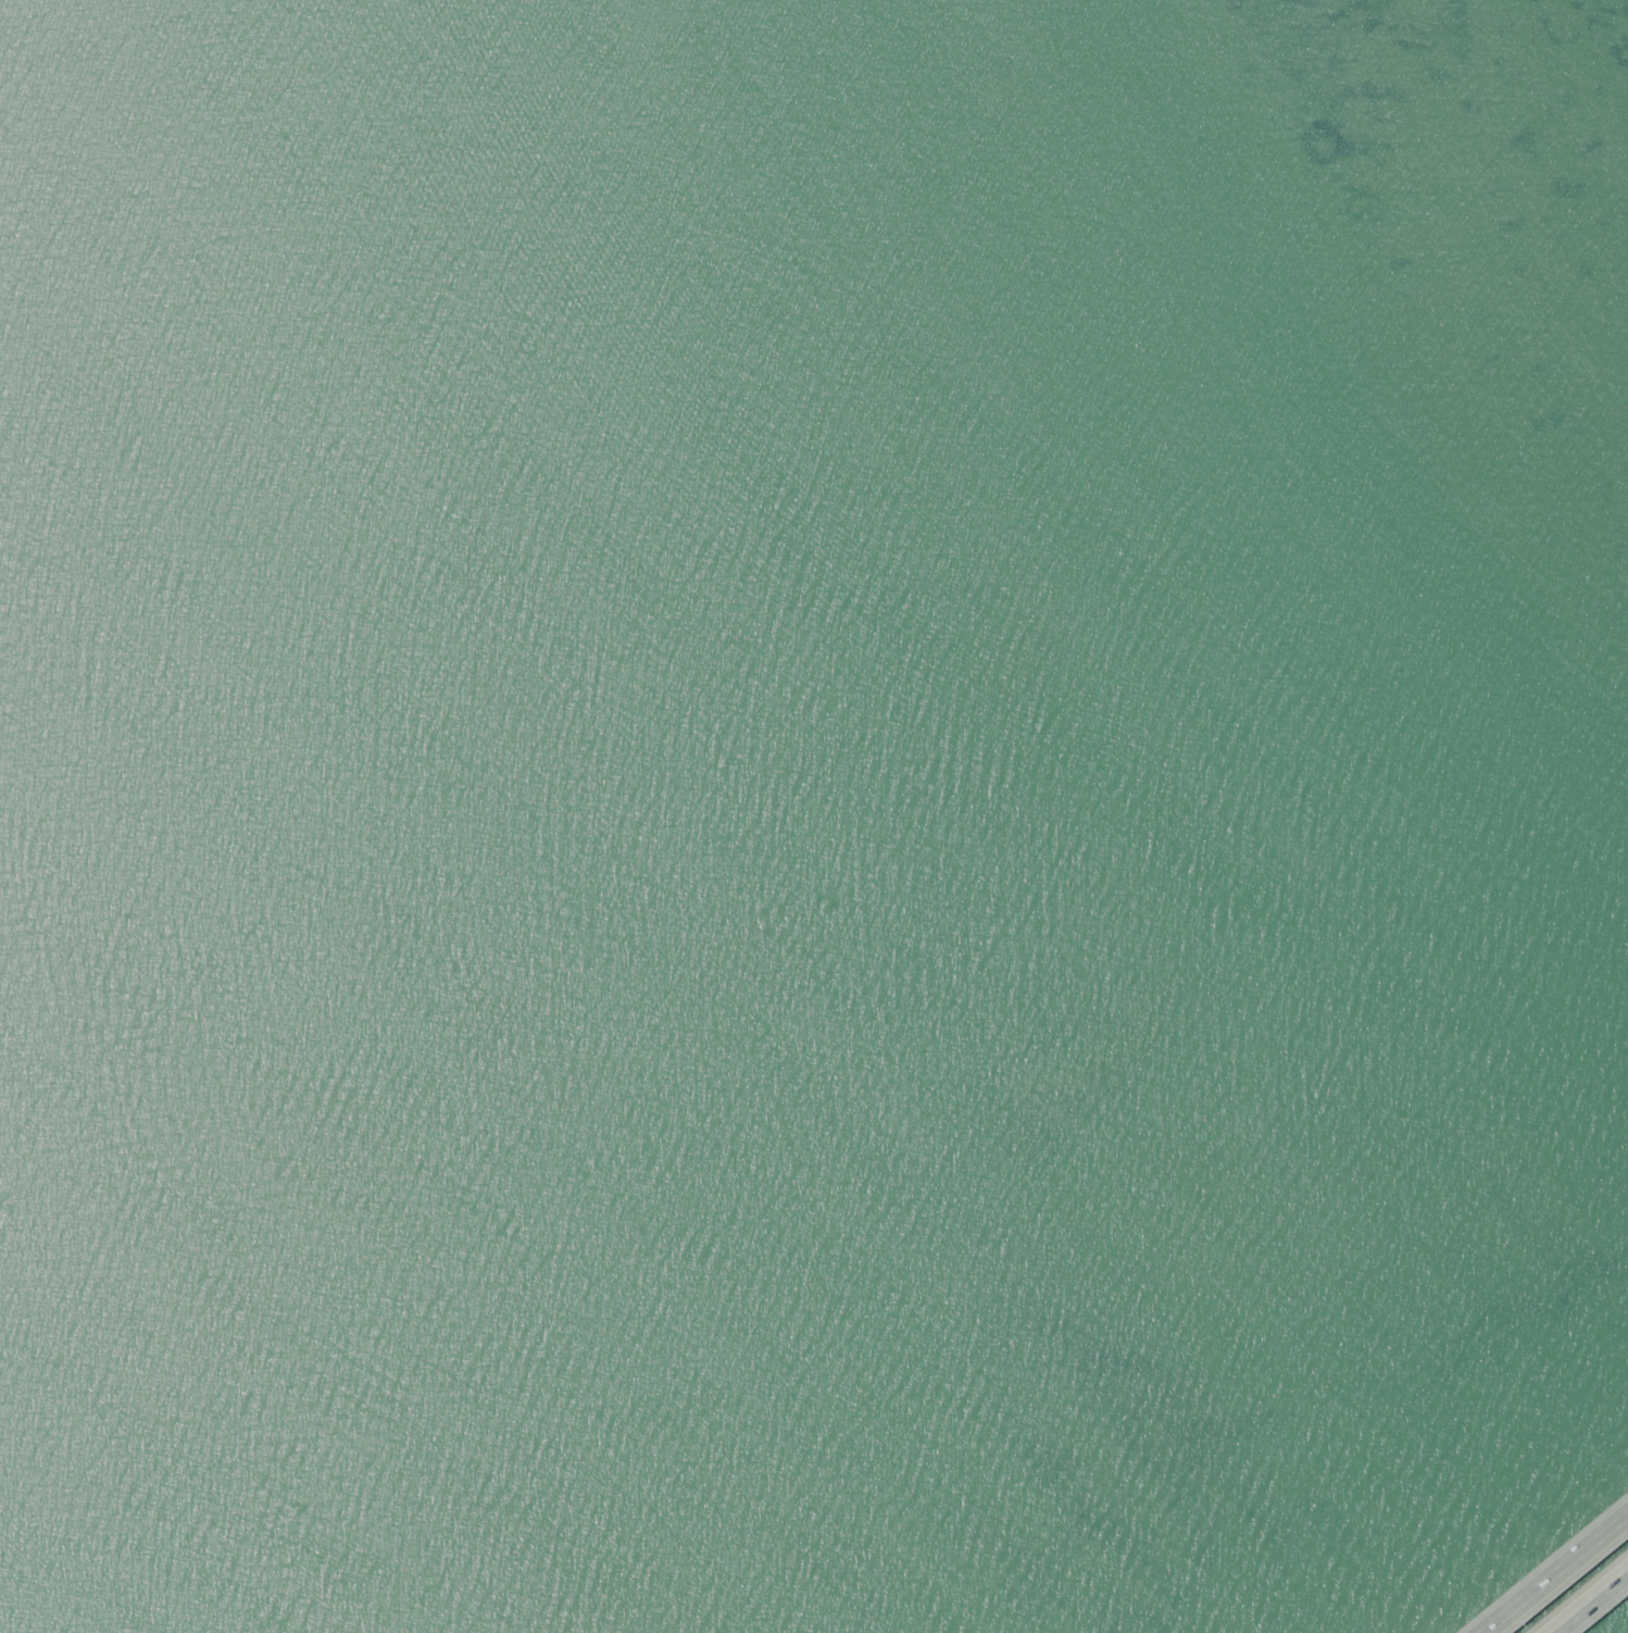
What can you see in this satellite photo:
road: (1560, 1578)
road: (1593, 1605)

